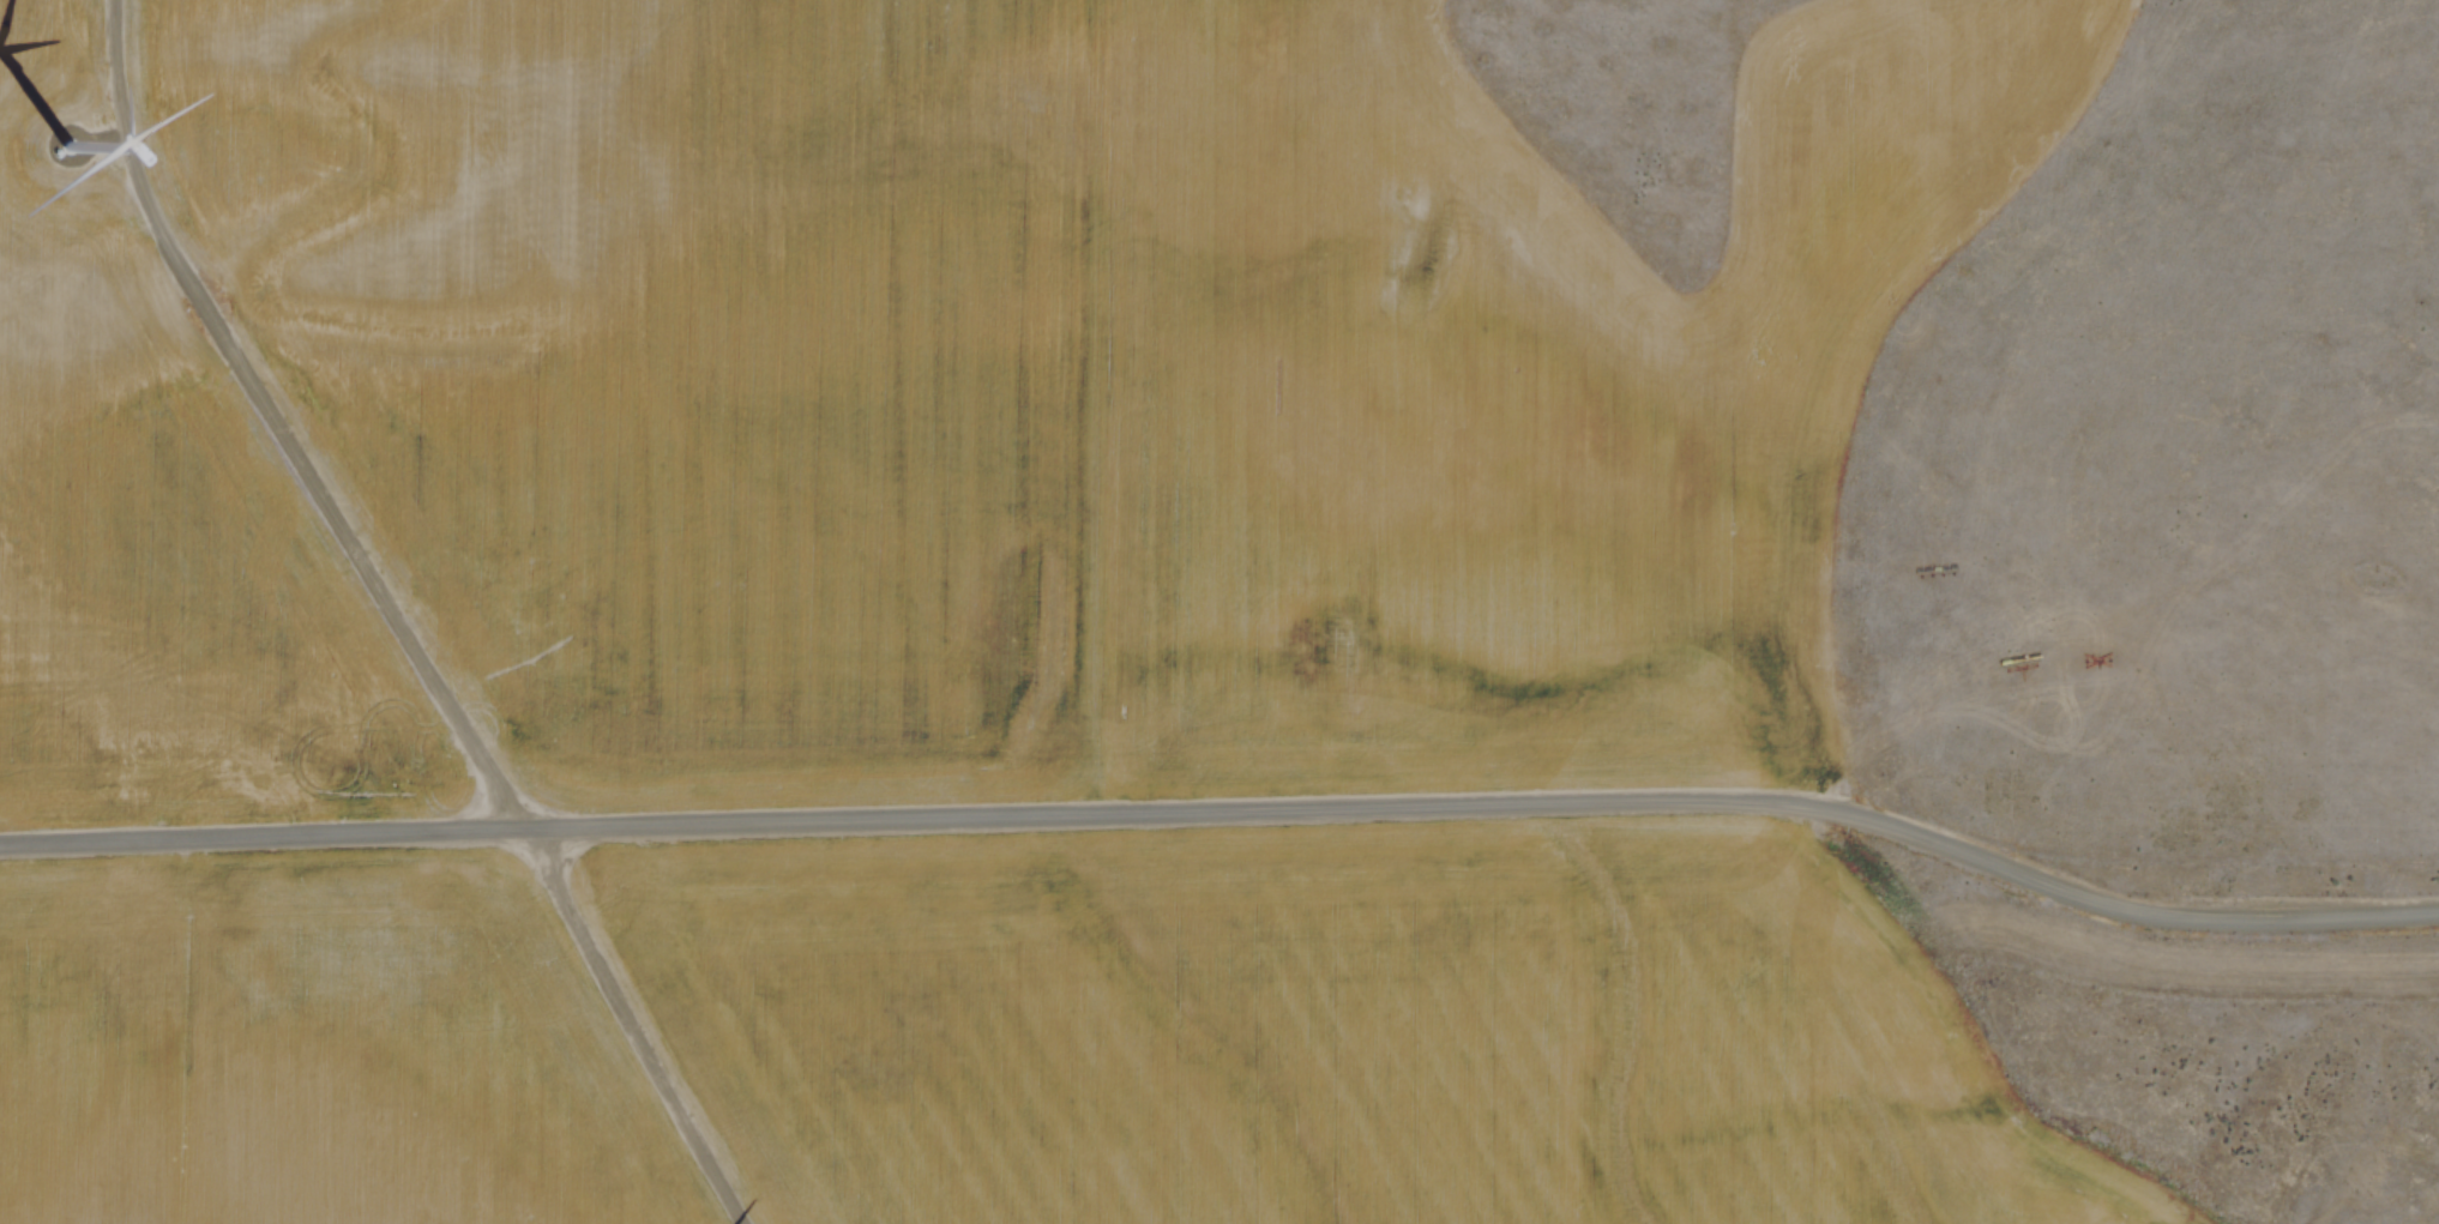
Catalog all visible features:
wind turbine: (65, 149)
road: (277, 422)
road: (1228, 802)

